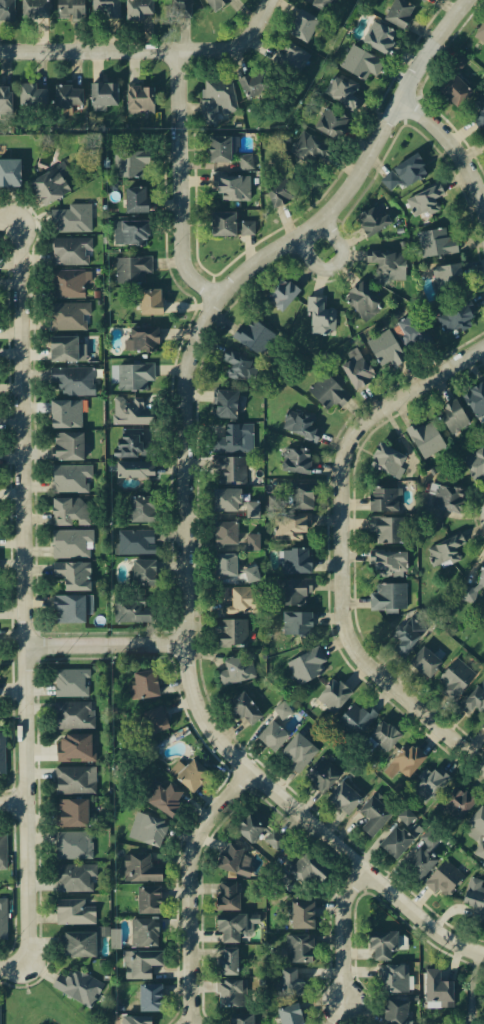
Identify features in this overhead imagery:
building: (423, 0)
building: (220, 5)
building: (327, 6)
building: (102, 8)
building: (171, 8)
building: (4, 9)
building: (31, 9)
building: (134, 9)
building: (66, 10)
building: (398, 10)
building: (298, 28)
building: (377, 34)
building: (477, 36)
road: (147, 48)
building: (289, 59)
building: (357, 61)
building: (462, 64)
building: (255, 87)
building: (64, 88)
building: (449, 89)
building: (344, 91)
building: (30, 93)
building: (97, 93)
building: (2, 97)
building: (213, 101)
building: (137, 105)
building: (479, 110)
building: (328, 120)
road: (452, 136)
building: (215, 148)
building: (309, 150)
building: (130, 162)
building: (247, 162)
building: (8, 171)
building: (405, 172)
road: (184, 180)
building: (222, 185)
building: (45, 186)
building: (276, 190)
building: (134, 195)
building: (424, 200)
road: (13, 219)
building: (369, 219)
building: (69, 220)
building: (221, 220)
building: (130, 229)
building: (434, 238)
road: (314, 243)
building: (69, 250)
building: (386, 265)
building: (132, 266)
building: (447, 276)
building: (67, 283)
building: (282, 295)
building: (359, 299)
building: (149, 302)
building: (66, 315)
building: (453, 316)
building: (318, 322)
building: (413, 331)
building: (253, 335)
building: (140, 342)
building: (59, 347)
building: (385, 356)
building: (238, 365)
building: (351, 366)
building: (132, 377)
building: (70, 380)
building: (328, 394)
building: (229, 398)
building: (473, 400)
building: (128, 410)
building: (61, 411)
building: (452, 418)
building: (311, 428)
building: (228, 433)
road: (358, 433)
building: (422, 438)
building: (130, 442)
building: (63, 444)
building: (295, 460)
building: (386, 460)
building: (473, 463)
building: (224, 466)
building: (128, 472)
building: (68, 477)
road: (188, 489)
building: (223, 497)
building: (297, 497)
building: (383, 497)
building: (437, 498)
building: (133, 505)
building: (252, 509)
building: (71, 511)
building: (290, 526)
building: (388, 528)
building: (236, 536)
building: (132, 539)
building: (70, 542)
building: (446, 547)
building: (295, 561)
building: (390, 561)
building: (224, 569)
building: (134, 572)
building: (249, 574)
building: (73, 575)
building: (472, 588)
building: (292, 590)
road: (32, 592)
building: (241, 597)
building: (388, 597)
building: (66, 607)
building: (128, 609)
building: (296, 623)
building: (229, 632)
building: (406, 633)
road: (111, 643)
building: (311, 663)
building: (426, 663)
building: (234, 670)
building: (454, 679)
building: (71, 680)
building: (141, 681)
road: (396, 683)
building: (335, 695)
building: (475, 698)
building: (245, 709)
building: (283, 710)
building: (72, 713)
building: (356, 716)
building: (153, 719)
building: (483, 723)
building: (483, 725)
building: (384, 734)
building: (273, 736)
building: (72, 745)
building: (299, 753)
building: (2, 754)
building: (410, 761)
building: (185, 771)
building: (322, 773)
building: (73, 777)
building: (429, 784)
building: (160, 794)
building: (344, 798)
building: (456, 801)
road: (17, 804)
building: (69, 809)
building: (406, 816)
building: (373, 818)
building: (478, 823)
building: (250, 826)
building: (150, 827)
building: (72, 843)
building: (397, 843)
building: (3, 847)
building: (225, 857)
building: (422, 861)
building: (300, 864)
building: (135, 867)
building: (71, 877)
road: (194, 879)
building: (446, 879)
building: (474, 893)
building: (223, 894)
building: (149, 898)
building: (298, 909)
building: (70, 911)
building: (2, 919)
building: (232, 929)
building: (142, 930)
road: (347, 935)
building: (76, 940)
building: (380, 944)
building: (293, 945)
building: (225, 960)
building: (137, 964)
road: (17, 967)
building: (286, 980)
building: (387, 980)
road: (34, 982)
road: (25, 984)
building: (77, 984)
road: (12, 985)
building: (438, 987)
road: (26, 989)
building: (225, 992)
building: (150, 997)
park: (33, 1004)
building: (390, 1009)
building: (284, 1014)
building: (0, 1016)
building: (128, 1017)
building: (237, 1017)

